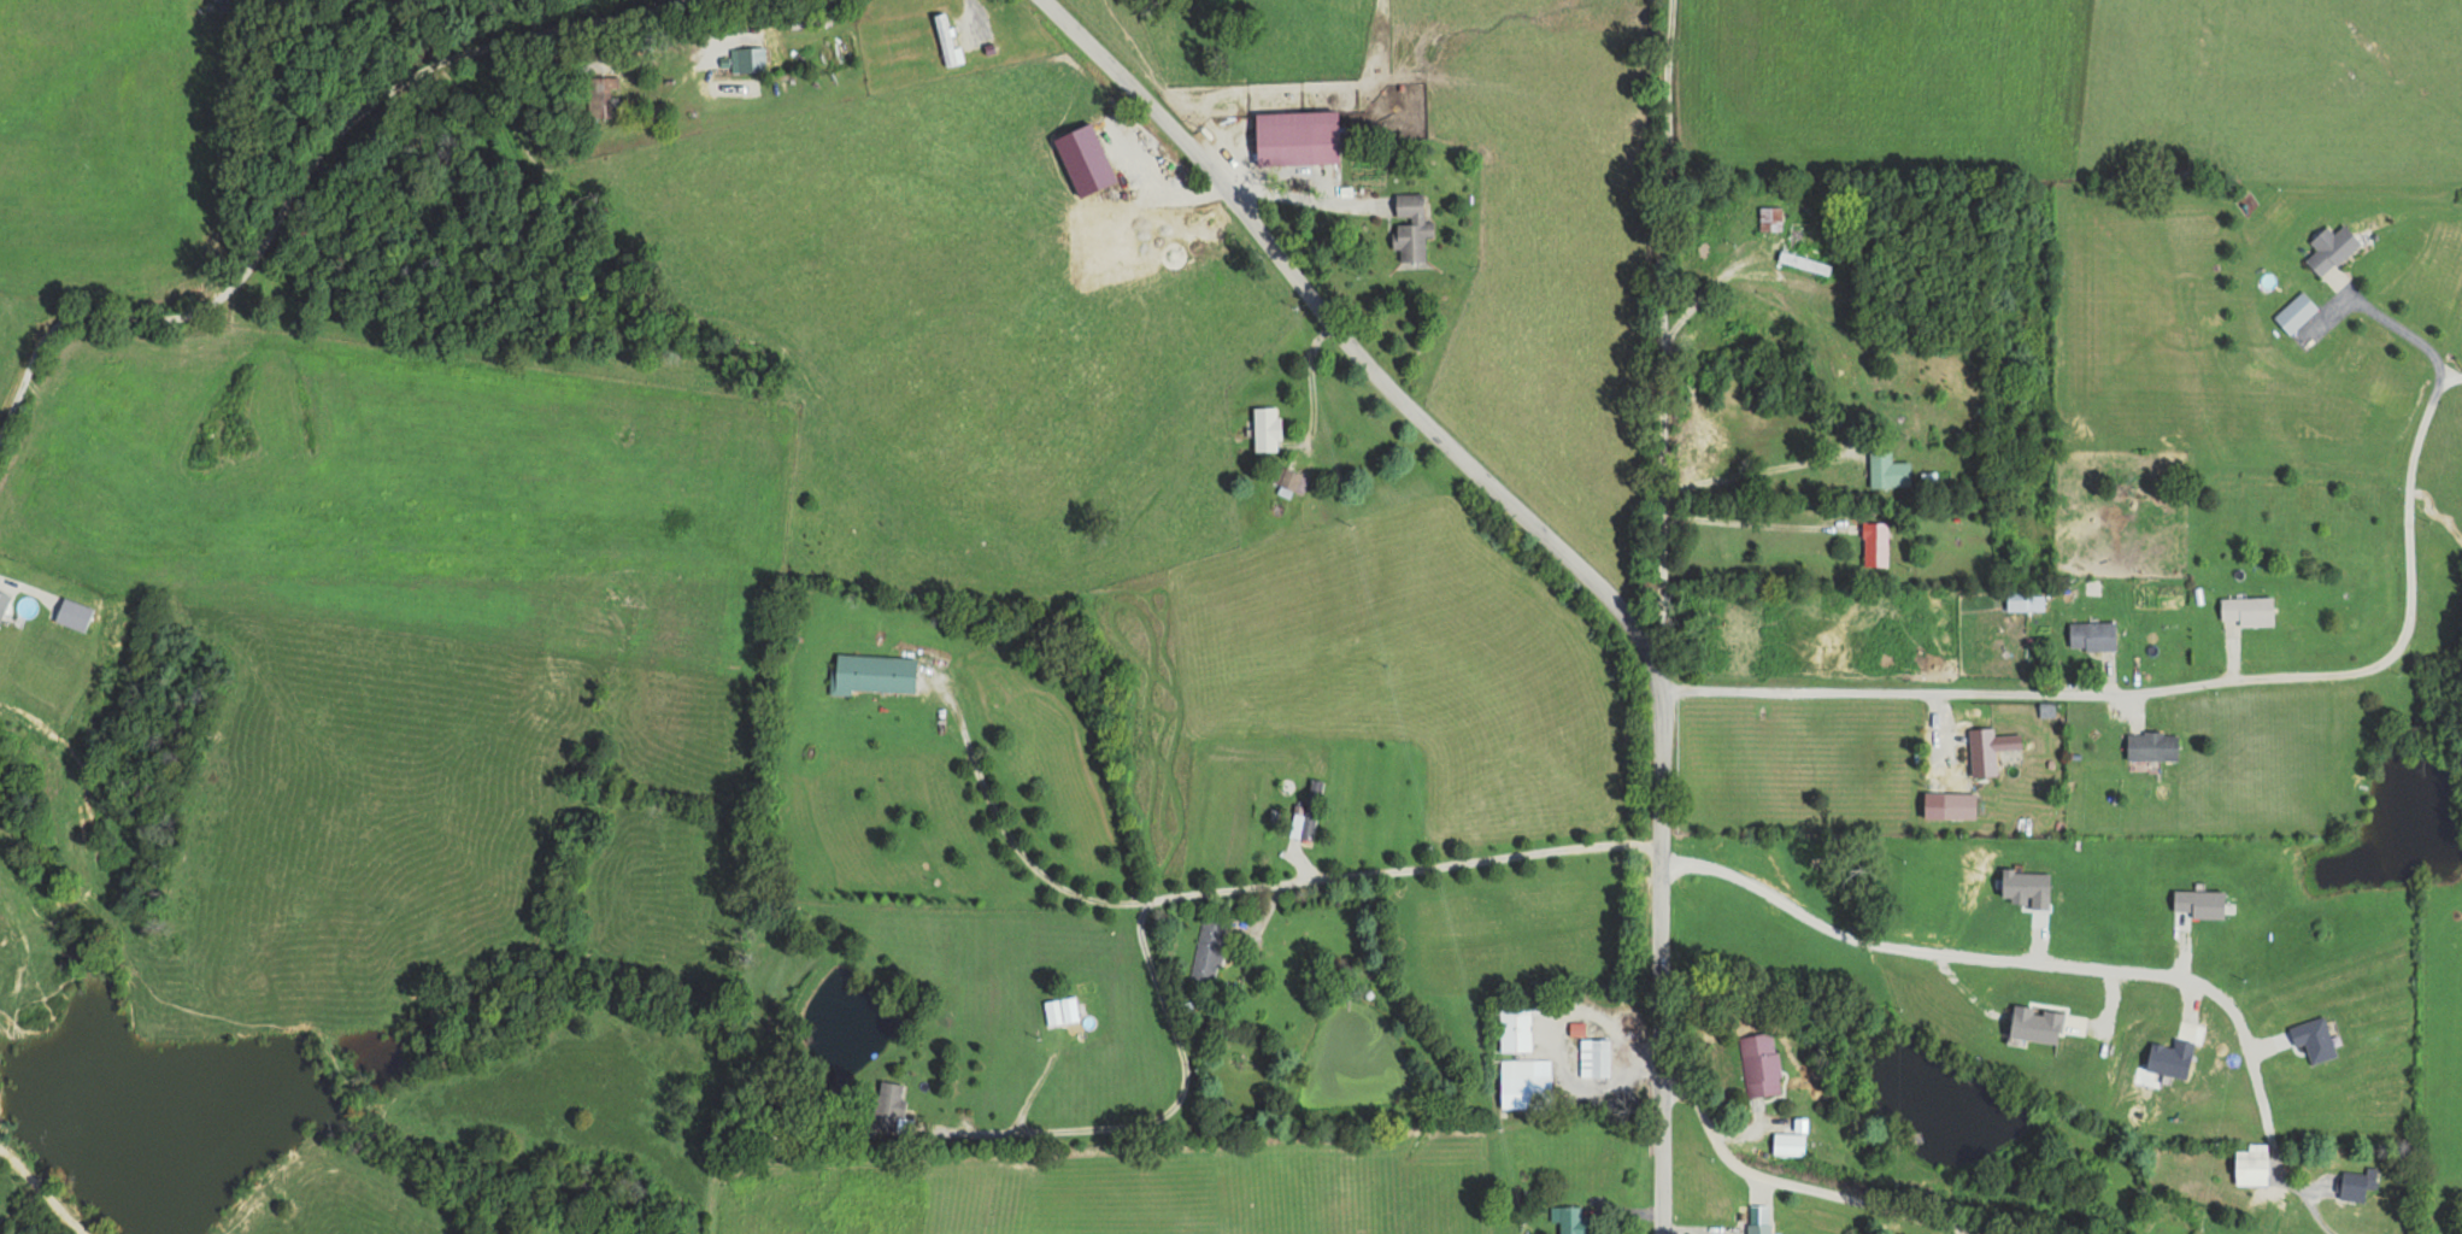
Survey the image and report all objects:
building: (946, 41)
building: (747, 59)
building: (599, 93)
building: (1294, 137)
road: (362, 206)
building: (1769, 219)
building: (1409, 227)
building: (2329, 249)
building: (2293, 313)
road: (2385, 318)
road: (1645, 343)
road: (1357, 346)
road: (2451, 378)
building: (1264, 429)
building: (1886, 471)
building: (1288, 480)
building: (1873, 545)
building: (2, 601)
building: (2246, 610)
building: (2091, 636)
building: (871, 675)
road: (2172, 688)
building: (2150, 745)
building: (1987, 750)
building: (1306, 812)
road: (1352, 875)
building: (1206, 948)
road: (1657, 959)
road: (2064, 964)
building: (1059, 1010)
building: (1593, 1057)
building: (1520, 1060)
building: (1758, 1063)
building: (888, 1103)
building: (1787, 1142)
building: (2250, 1164)
building: (2356, 1183)
road: (1794, 1187)
building: (1567, 1218)
building: (1756, 1228)

